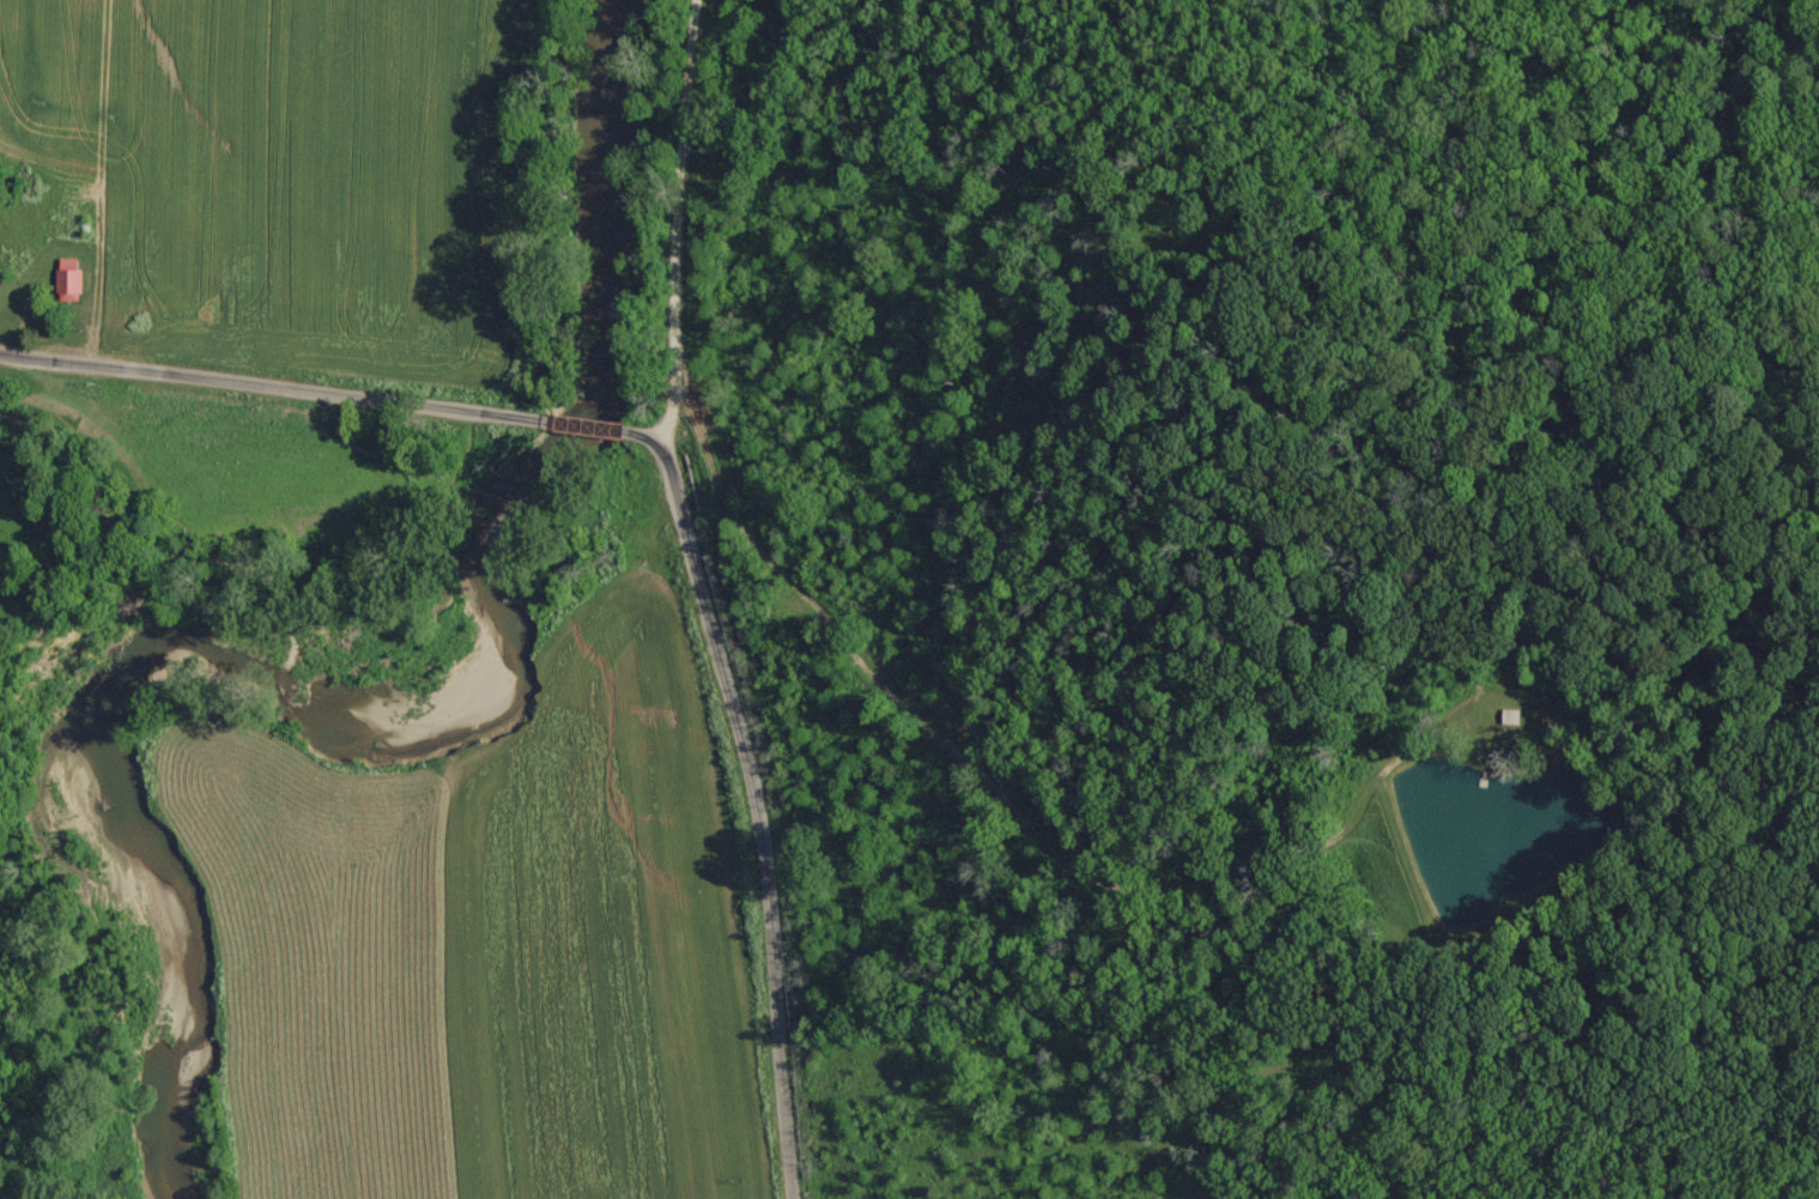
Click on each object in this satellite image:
building: (74, 277)
road: (675, 495)

